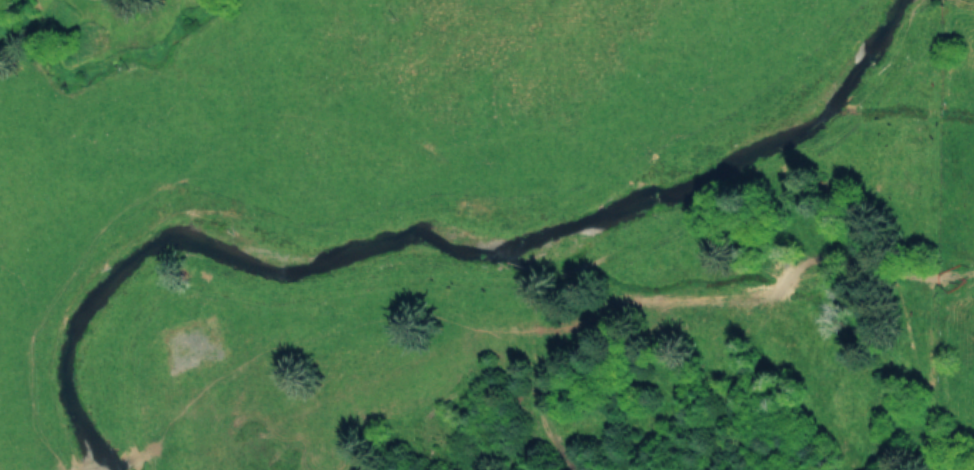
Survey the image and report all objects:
crop: (464, 132)

